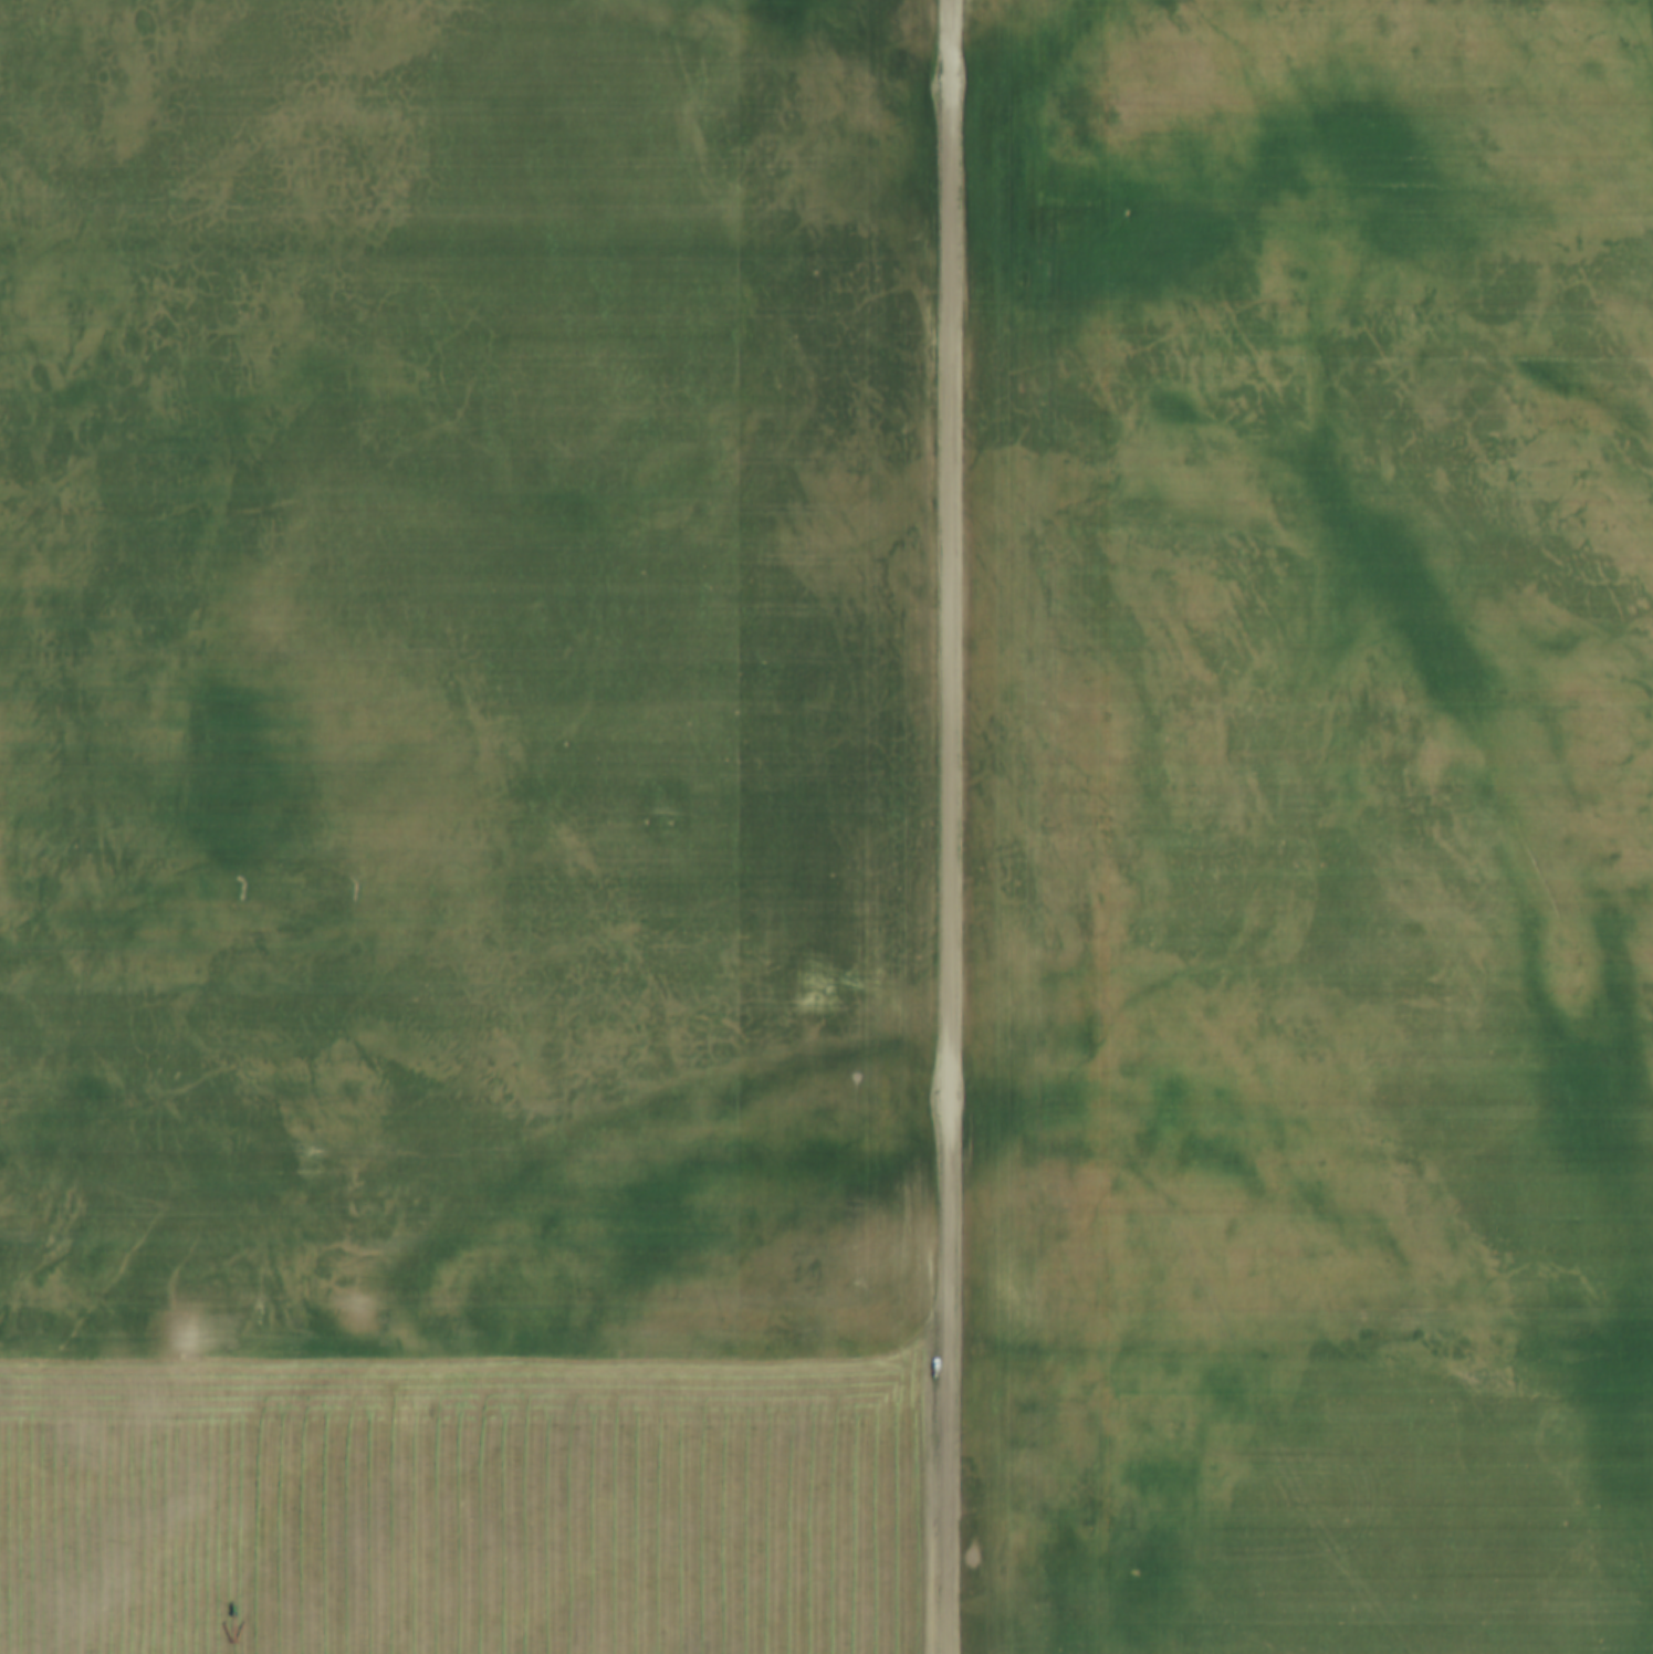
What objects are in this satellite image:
road: (952, 826)

